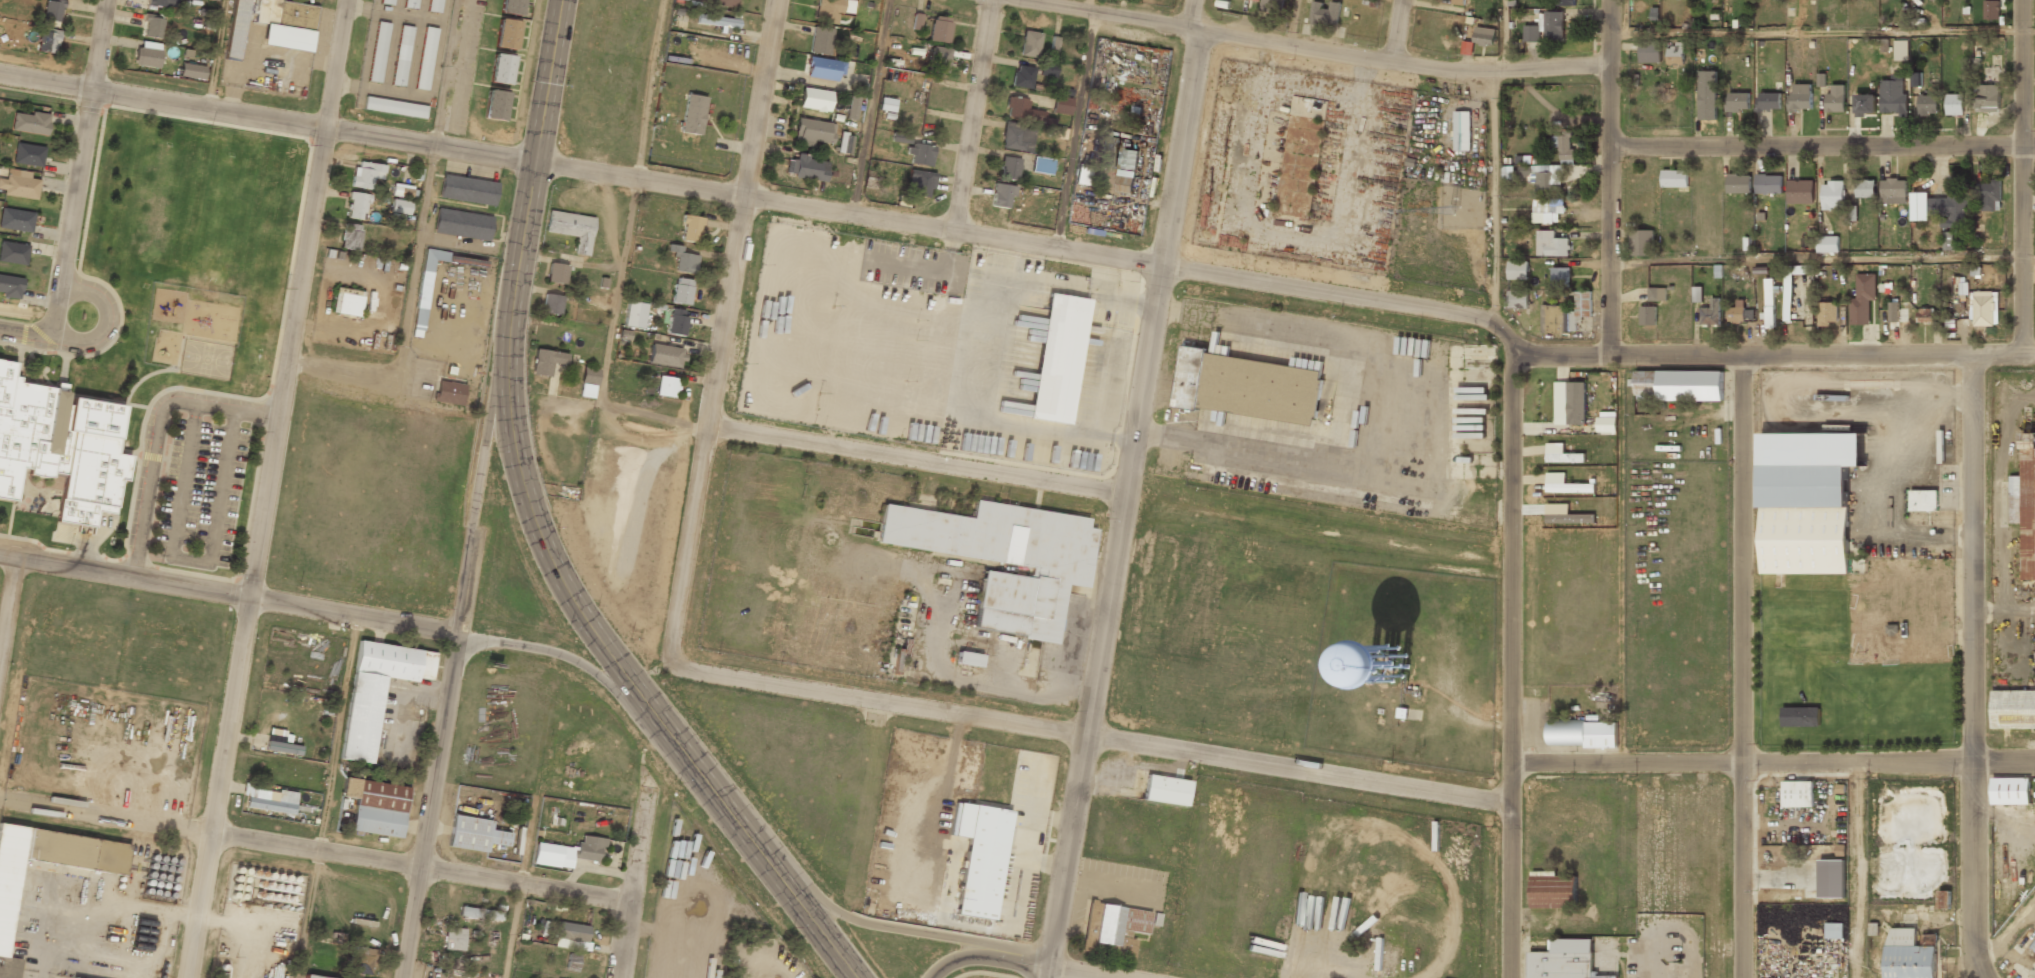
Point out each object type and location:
building: (1260, 0)
building: (1934, 0)
building: (715, 1)
building: (161, 2)
building: (386, 2)
building: (1459, 2)
building: (1565, 2)
building: (411, 4)
building: (434, 6)
building: (1272, 6)
building: (510, 7)
building: (831, 9)
building: (1991, 9)
building: (53, 10)
building: (1326, 12)
building: (717, 20)
building: (916, 21)
building: (285, 24)
building: (153, 25)
road: (1291, 25)
building: (1546, 27)
building: (939, 29)
building: (235, 30)
road: (1825, 30)
building: (505, 35)
building: (1484, 35)
road: (1403, 37)
road: (1505, 38)
building: (48, 40)
building: (820, 40)
building: (1029, 44)
building: (1053, 44)
building: (1467, 47)
building: (378, 51)
building: (1649, 51)
building: (148, 54)
road: (215, 54)
building: (1676, 54)
building: (401, 55)
road: (1309, 55)
building: (425, 58)
building: (938, 60)
building: (823, 68)
building: (499, 69)
building: (1047, 69)
building: (192, 71)
road: (445, 73)
building: (1022, 76)
building: (1800, 97)
building: (1893, 97)
building: (1836, 98)
building: (1987, 98)
building: (815, 99)
building: (1769, 100)
building: (1737, 101)
building: (886, 104)
building: (1865, 104)
building: (1928, 104)
building: (1954, 104)
building: (1061, 105)
building: (494, 106)
building: (852, 107)
road: (868, 107)
building: (393, 108)
building: (1022, 109)
building: (692, 116)
road: (975, 117)
building: (30, 122)
road: (1075, 125)
road: (2025, 128)
building: (1461, 130)
building: (812, 132)
building: (1056, 132)
building: (900, 137)
building: (1016, 137)
building: (845, 143)
building: (28, 154)
building: (919, 154)
road: (1825, 155)
road: (538, 159)
building: (1128, 159)
building: (1041, 164)
building: (1008, 167)
building: (806, 168)
road: (80, 169)
building: (366, 174)
building: (1083, 174)
building: (1674, 178)
road: (1617, 180)
building: (1125, 181)
building: (918, 183)
building: (1738, 183)
building: (1768, 183)
building: (19, 184)
building: (1865, 188)
building: (1892, 189)
building: (402, 190)
building: (467, 190)
building: (1800, 191)
building: (1000, 194)
building: (1833, 195)
building: (1989, 195)
road: (761, 200)
building: (357, 206)
building: (400, 206)
road: (1495, 207)
building: (1940, 208)
building: (1546, 211)
building: (16, 219)
building: (461, 225)
building: (690, 228)
building: (571, 230)
building: (351, 236)
building: (1948, 241)
building: (1641, 242)
building: (1551, 244)
building: (1827, 244)
building: (13, 252)
road: (1825, 258)
building: (682, 259)
road: (623, 260)
building: (1517, 270)
building: (557, 273)
building: (1560, 277)
building: (10, 286)
building: (1791, 286)
building: (425, 287)
building: (682, 291)
building: (1657, 293)
building: (1697, 294)
building: (1517, 298)
building: (1862, 298)
building: (347, 302)
building: (1769, 302)
building: (1583, 303)
building: (551, 304)
building: (1984, 307)
building: (1893, 311)
road: (405, 312)
building: (1736, 312)
building: (1711, 313)
building: (1827, 313)
building: (633, 314)
building: (1926, 314)
building: (1648, 315)
building: (1557, 318)
road: (107, 321)
building: (676, 321)
road: (726, 333)
road: (26, 334)
building: (665, 355)
building: (1057, 358)
building: (546, 361)
road: (1822, 361)
building: (588, 382)
building: (667, 386)
building: (1679, 386)
building: (1248, 387)
building: (449, 394)
building: (1570, 402)
building: (1607, 422)
building: (60, 447)
building: (1562, 454)
road: (922, 479)
building: (1566, 484)
road: (271, 489)
road: (1138, 491)
building: (1923, 500)
building: (2025, 505)
building: (1803, 519)
building: (1005, 558)
road: (127, 577)
road: (8, 609)
road: (458, 633)
road: (459, 649)
building: (968, 659)
building: (893, 660)
road: (1516, 661)
water tower: (1382, 663)
building: (1389, 663)
road: (1752, 669)
water tower: (1379, 670)
road: (1972, 670)
road: (622, 672)
building: (376, 693)
building: (2013, 710)
building: (1800, 716)
building: (1582, 734)
road: (1090, 735)
building: (283, 749)
road: (1774, 765)
building: (1165, 792)
building: (2010, 792)
building: (1798, 793)
road: (326, 796)
building: (264, 803)
building: (375, 808)
building: (473, 835)
building: (588, 849)
road: (314, 850)
building: (554, 854)
building: (982, 864)
road: (632, 886)
road: (519, 887)
building: (1553, 891)
building: (1944, 899)
building: (480, 914)
building: (5, 918)
road: (879, 927)
building: (1834, 930)
building: (1113, 931)
building: (572, 935)
building: (454, 938)
building: (1929, 939)
building: (1909, 955)
building: (362, 959)
road: (958, 959)
building: (1564, 960)
building: (572, 962)
road: (1066, 964)
building: (307, 977)

